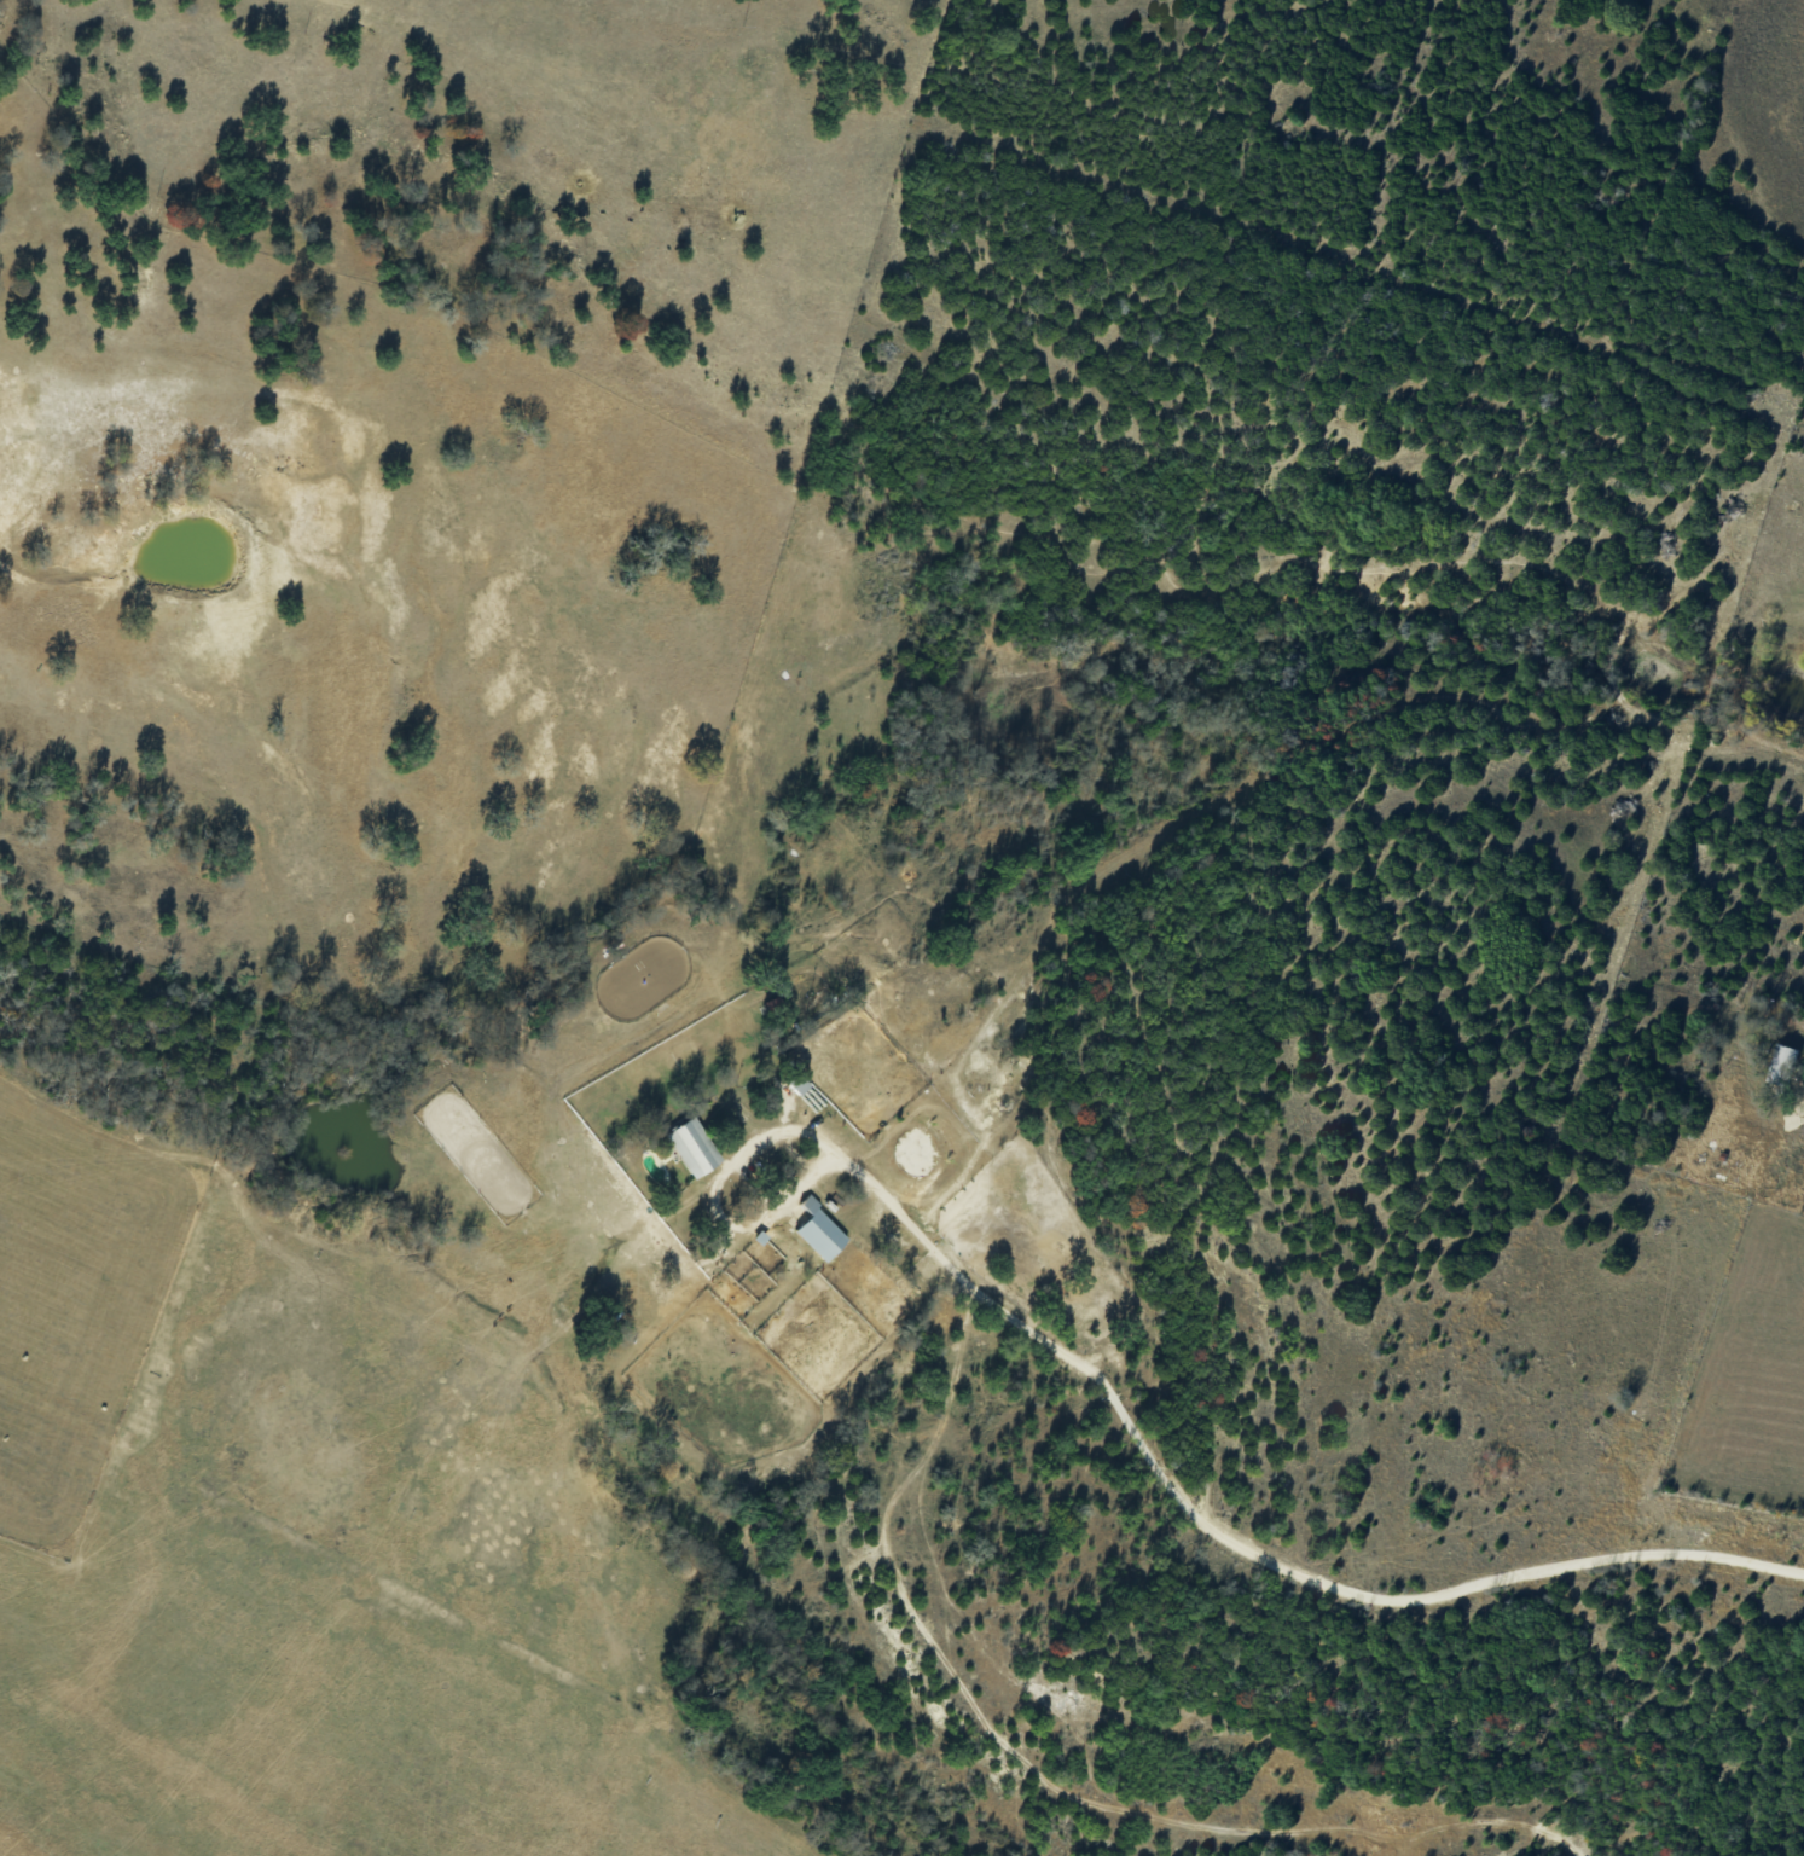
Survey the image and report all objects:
road: (1168, 918)
building: (1781, 1063)
building: (694, 1147)
building: (819, 1230)

